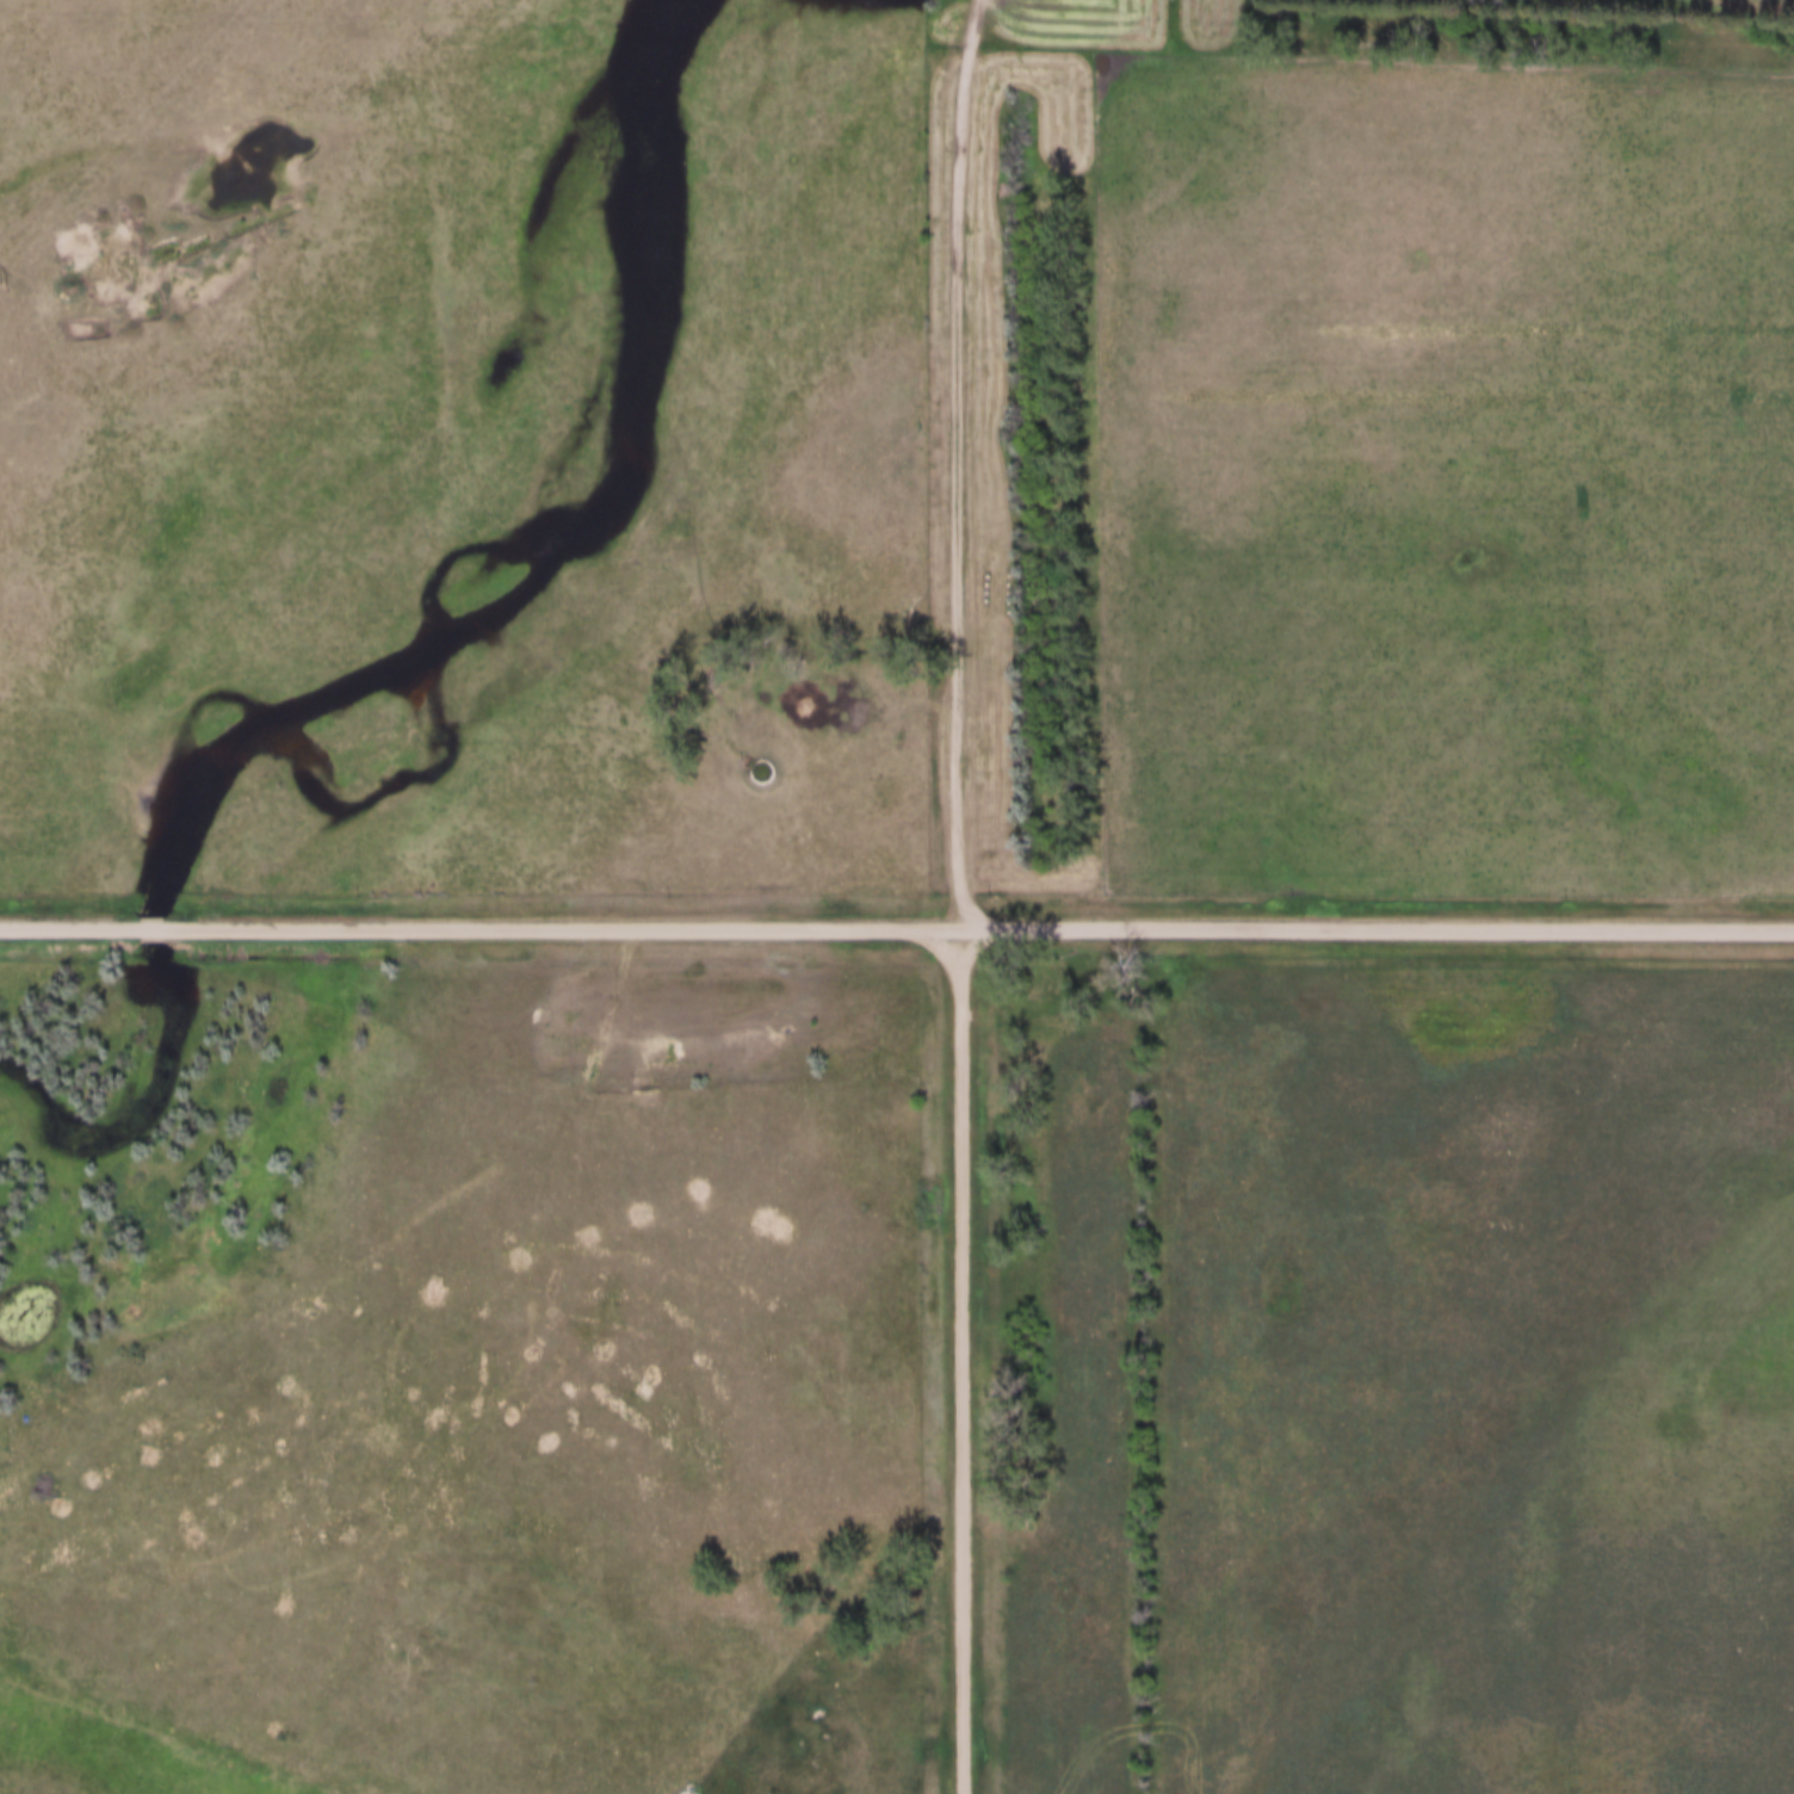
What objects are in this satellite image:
power tower: (1, 286)
road: (961, 462)
road: (67, 926)
road: (980, 926)
road: (150, 927)
road: (963, 1360)

